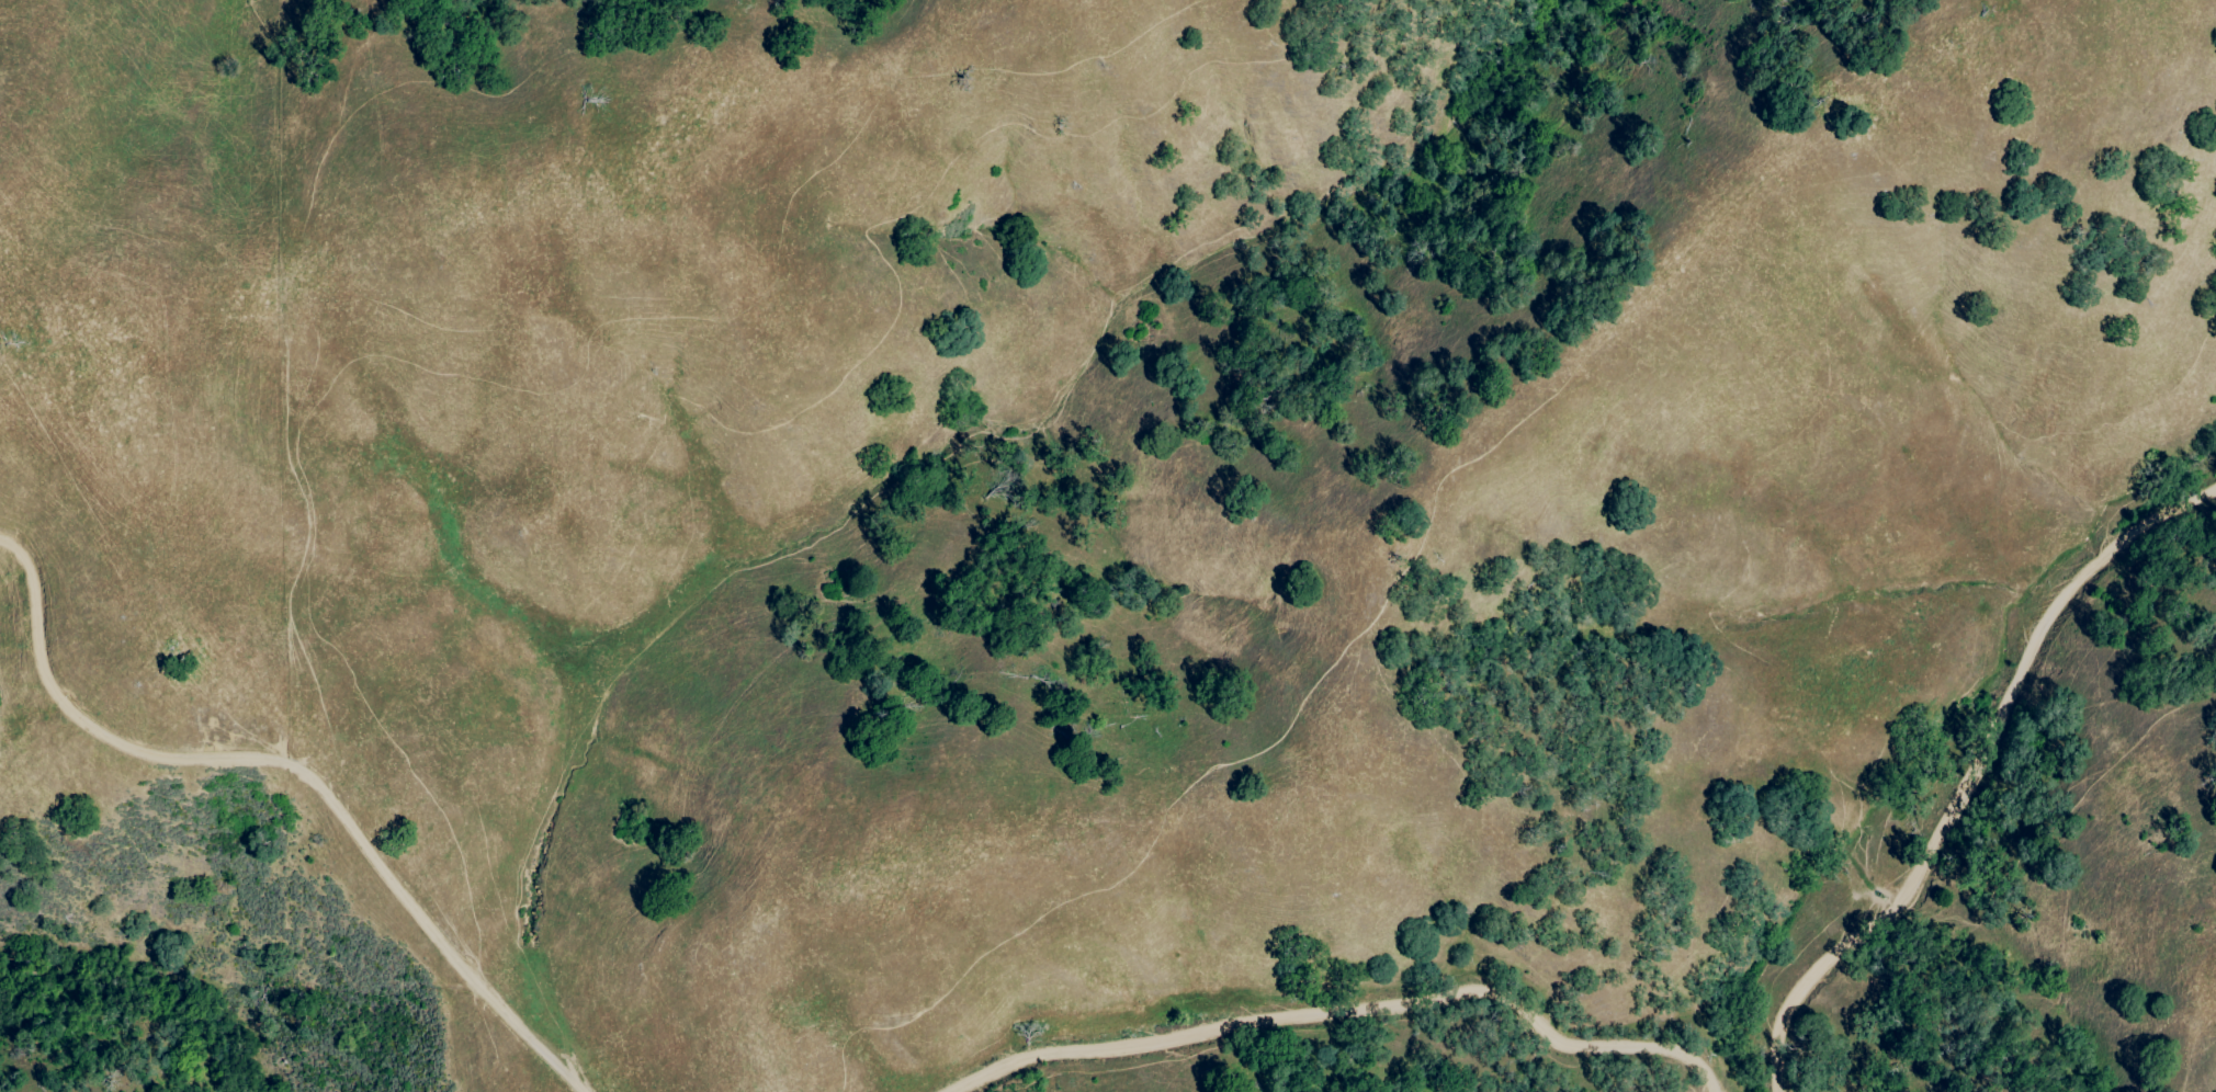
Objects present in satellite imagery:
road: (297, 769)
road: (1971, 778)
road: (1346, 1016)

